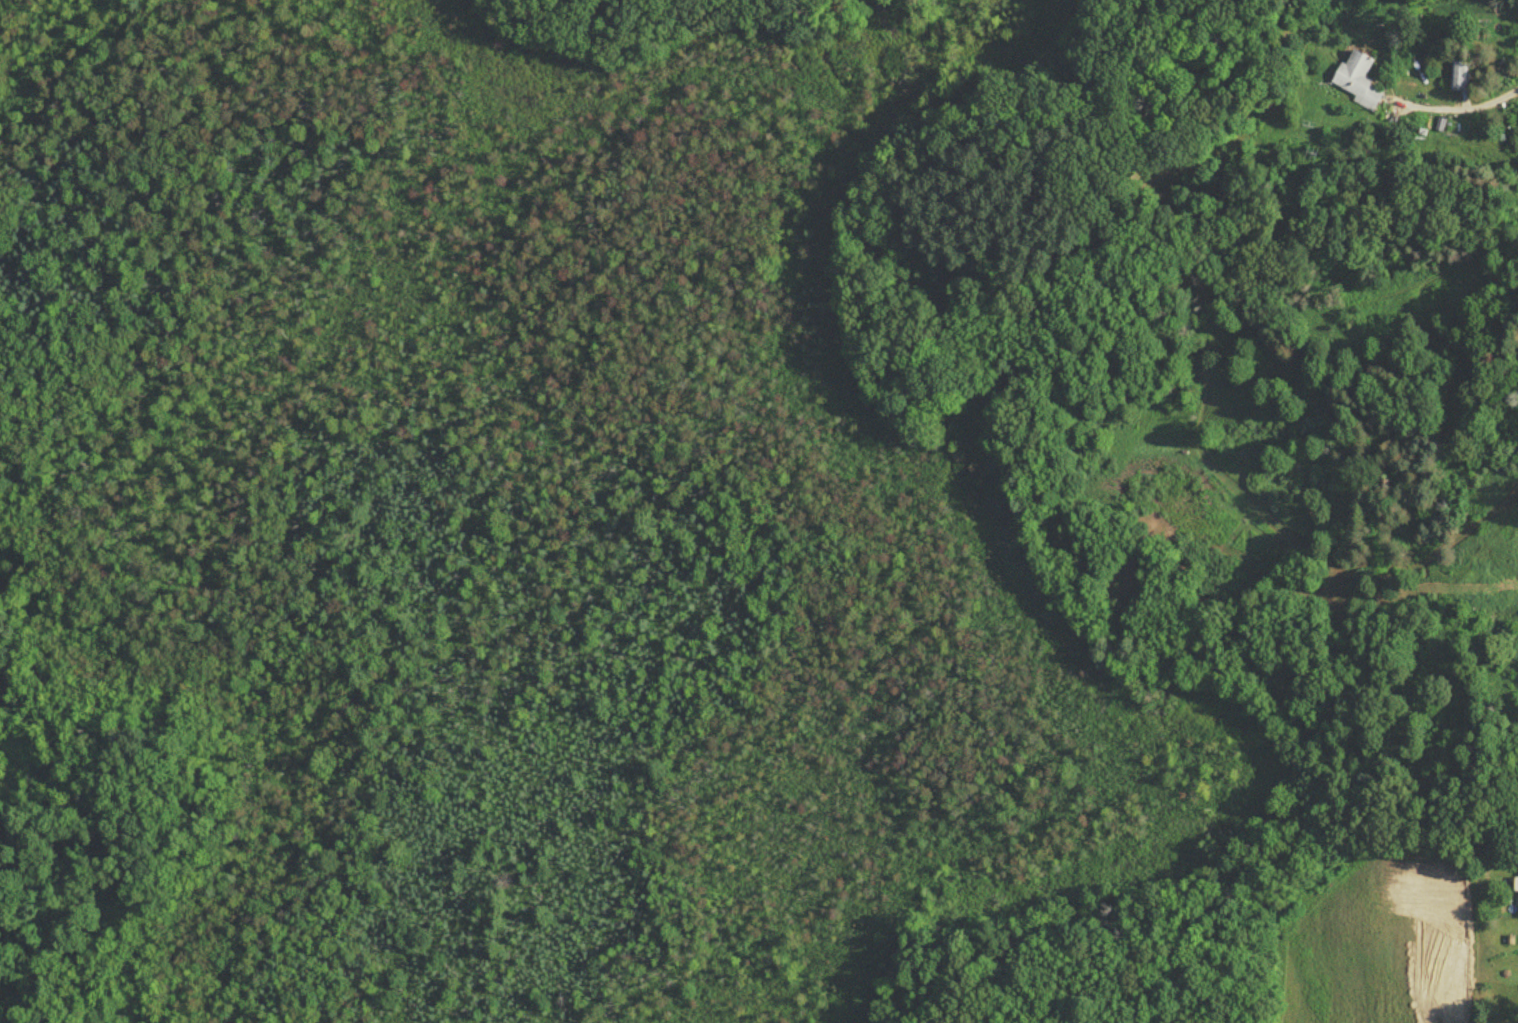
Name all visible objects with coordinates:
building: (1356, 82)
building: (1459, 82)
road: (1456, 112)
building: (1515, 889)

